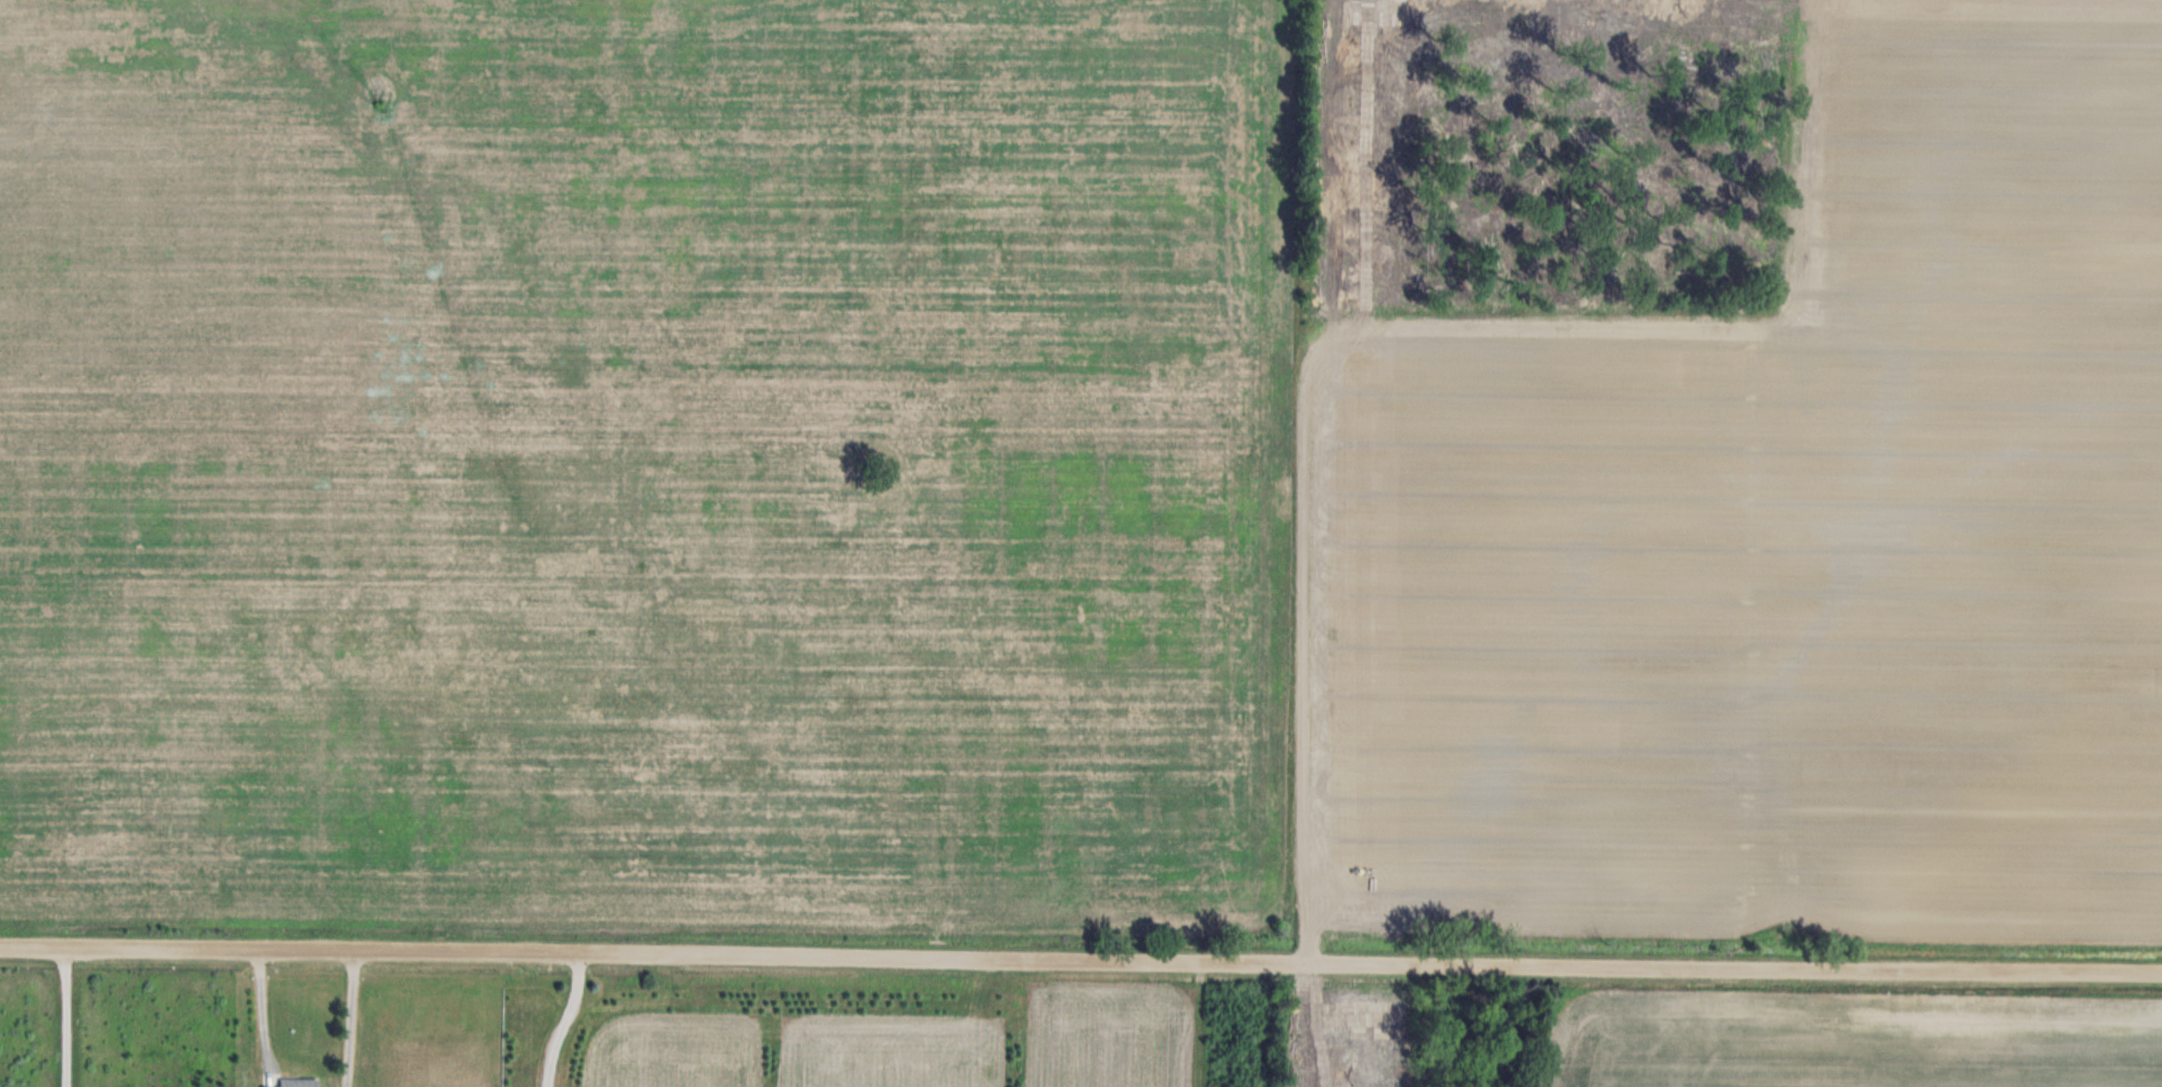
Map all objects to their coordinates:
road: (1080, 962)
road: (63, 1019)
road: (561, 1022)
building: (295, 1082)

